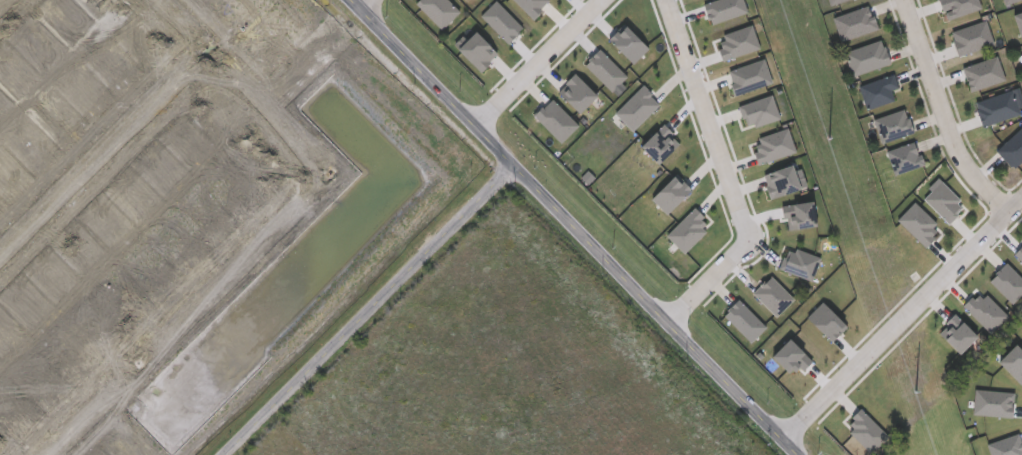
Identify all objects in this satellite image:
building: (466, 0)
building: (480, 0)
road: (364, 6)
road: (9, 8)
building: (438, 10)
road: (305, 55)
building: (867, 56)
road: (531, 62)
road: (318, 68)
building: (878, 90)
building: (996, 107)
road: (944, 114)
building: (892, 125)
building: (1012, 148)
building: (905, 157)
road: (105, 158)
road: (727, 175)
road: (274, 224)
road: (570, 227)
road: (368, 311)
road: (900, 319)

